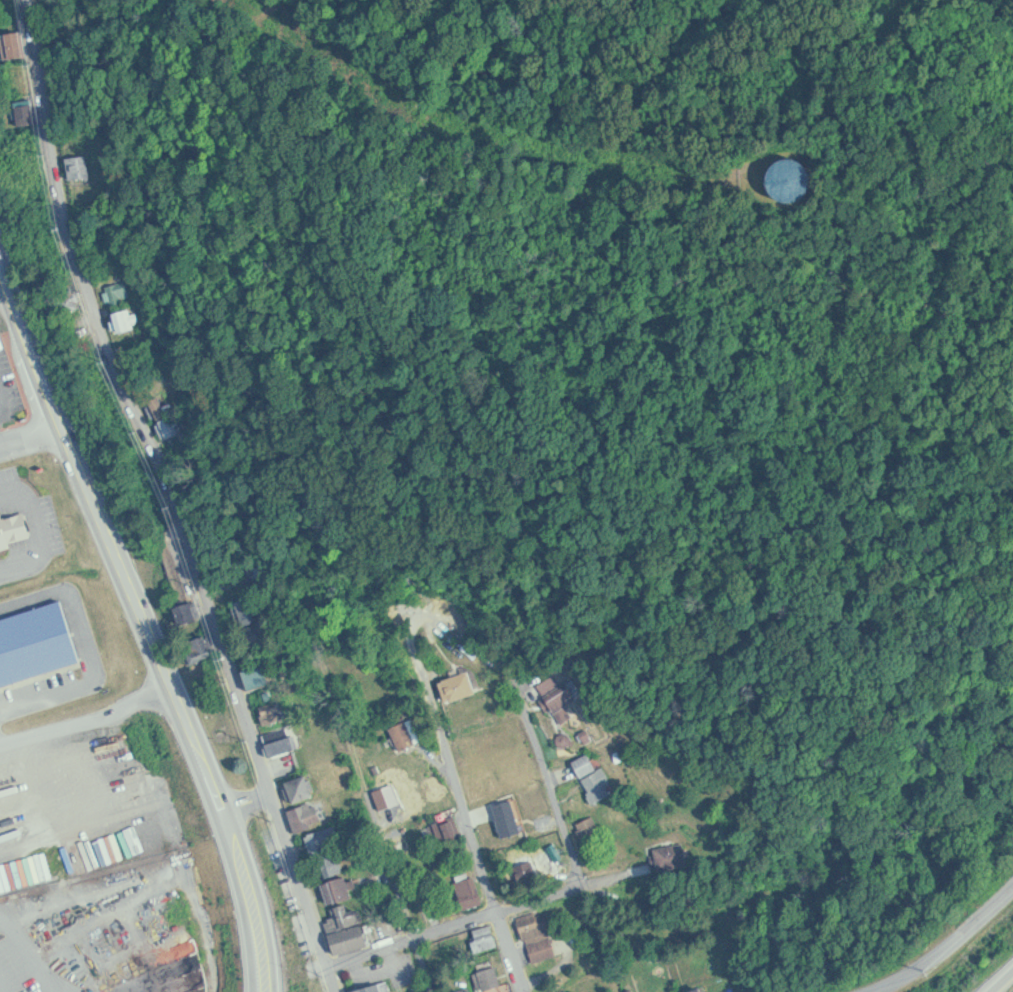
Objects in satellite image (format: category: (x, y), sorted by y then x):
building: (16, 44)
building: (799, 147)
storage tank: (799, 147)
building: (81, 167)
building: (793, 177)
road: (860, 261)
building: (121, 292)
building: (126, 319)
road: (32, 436)
road: (170, 499)
building: (18, 518)
building: (250, 610)
building: (189, 612)
road: (146, 620)
road: (479, 623)
building: (203, 645)
building: (460, 685)
building: (563, 696)
building: (275, 713)
building: (283, 739)
building: (595, 777)
building: (303, 788)
road: (555, 789)
road: (250, 804)
building: (311, 814)
building: (448, 828)
road: (473, 834)
building: (502, 836)
building: (331, 851)
building: (669, 856)
building: (527, 873)
building: (343, 889)
building: (472, 892)
road: (40, 902)
road: (488, 918)
road: (410, 922)
building: (351, 933)
building: (540, 936)
building: (488, 937)
road: (947, 947)
parking lot: (31, 955)
building: (492, 977)
road: (1003, 983)
building: (376, 985)
building: (700, 990)
building: (472, 991)

